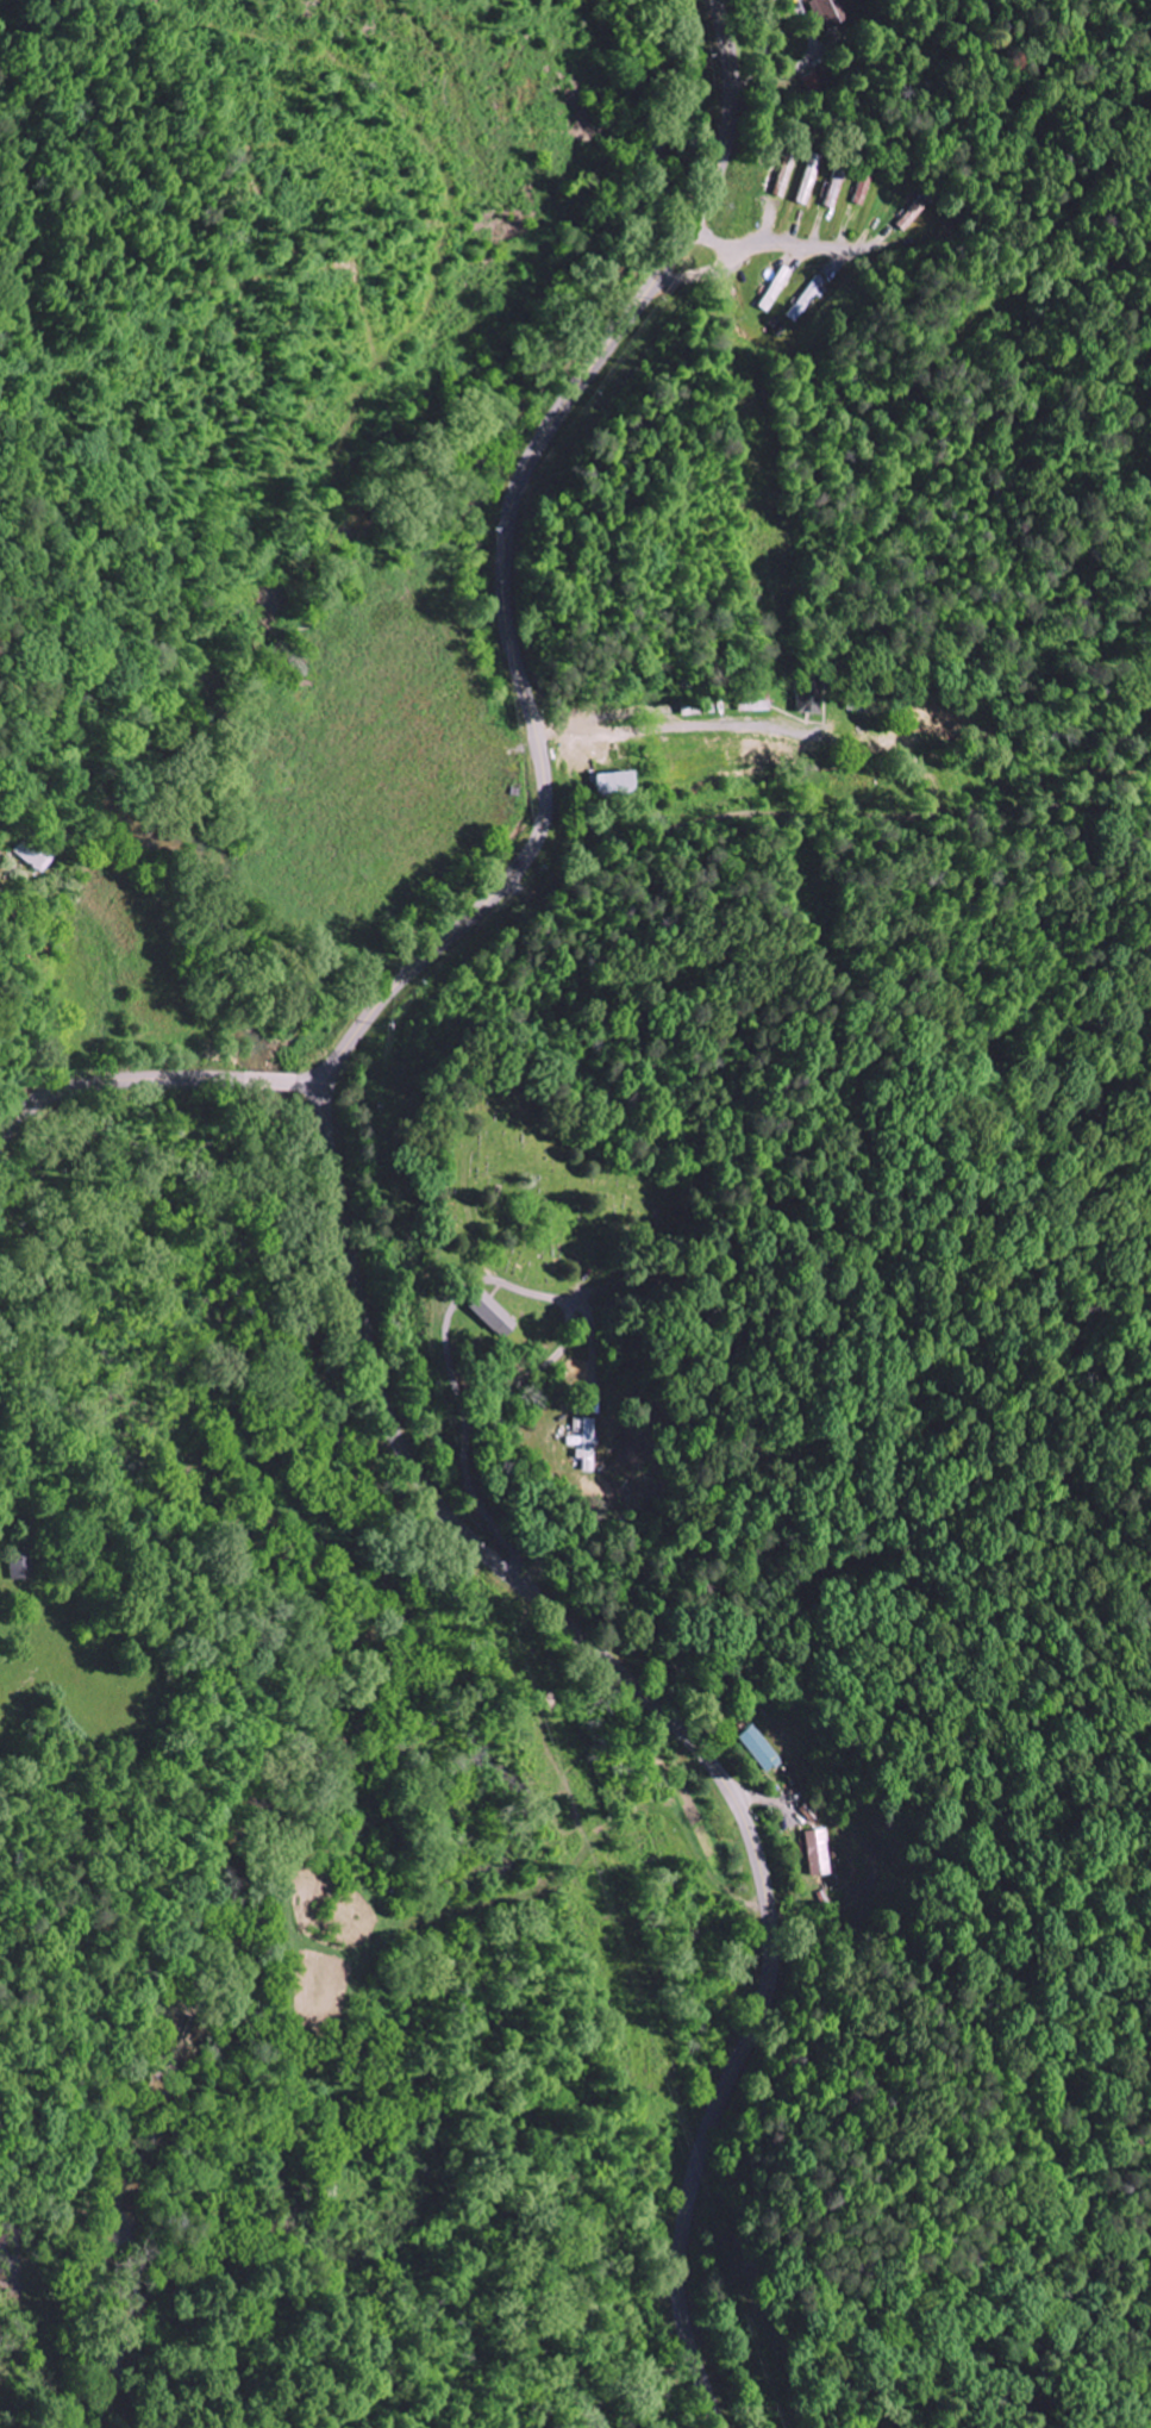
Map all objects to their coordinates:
building: (831, 12)
building: (815, 83)
building: (786, 173)
building: (809, 180)
building: (864, 189)
building: (917, 213)
road: (767, 242)
building: (775, 288)
building: (806, 299)
road: (503, 557)
building: (813, 699)
building: (617, 785)
building: (38, 854)
road: (171, 1004)
road: (145, 1082)
building: (493, 1315)
road: (558, 1349)
road: (444, 1352)
road: (476, 1499)
building: (17, 1565)
road: (671, 1719)
building: (761, 1748)
building: (811, 1812)
building: (817, 1852)

